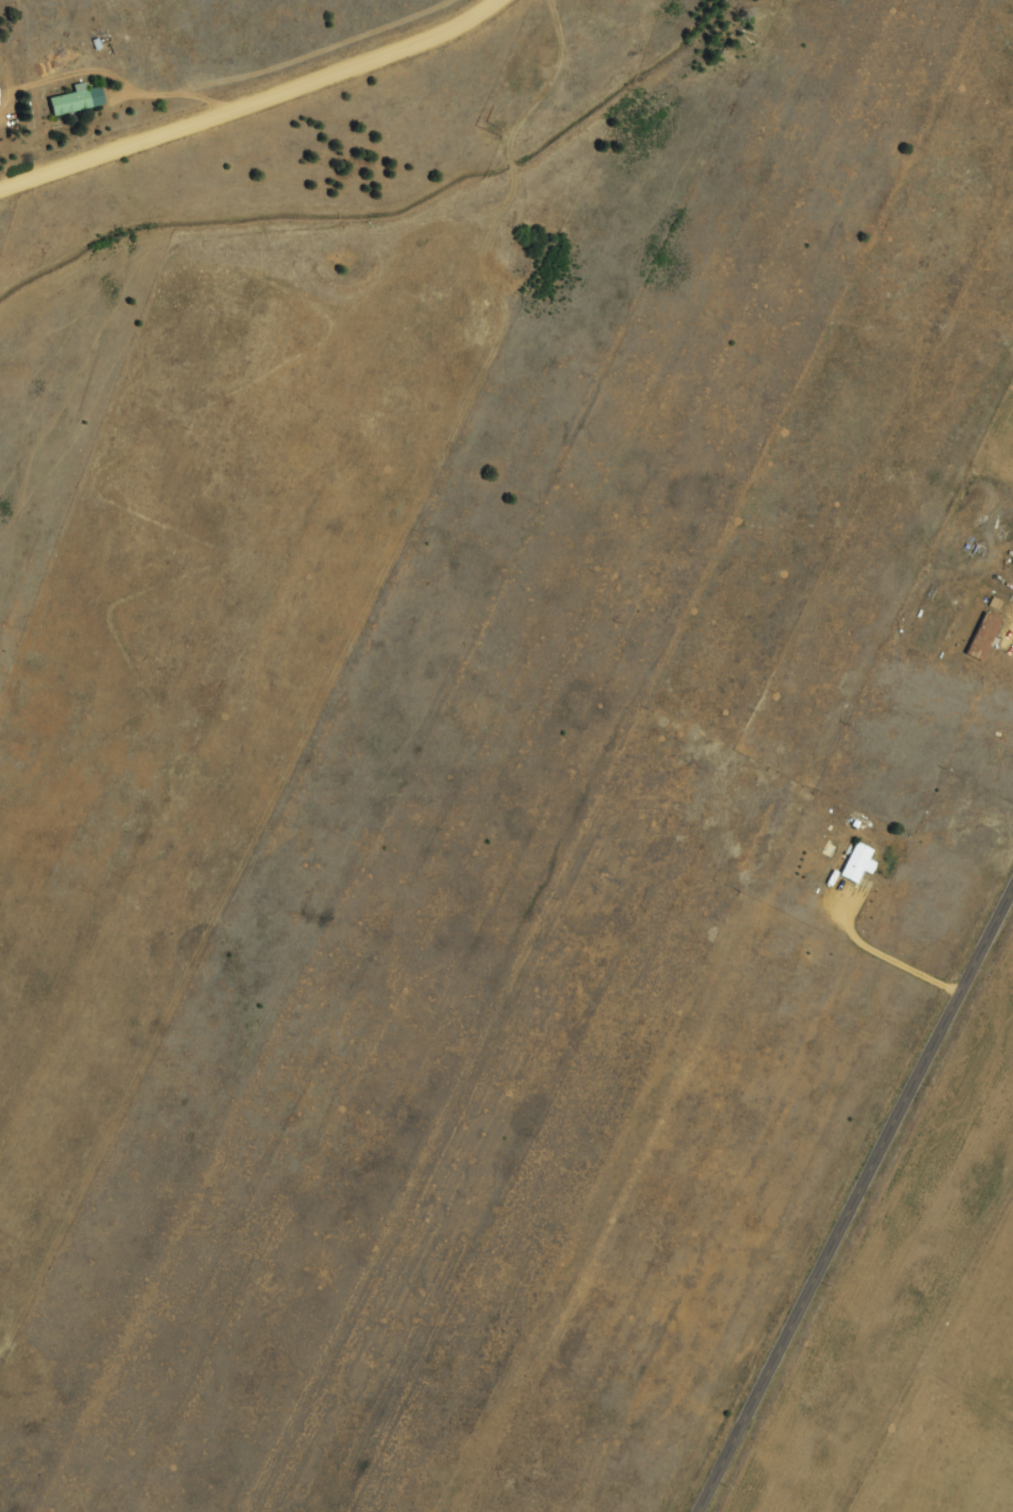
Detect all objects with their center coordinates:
building: (80, 101)
road: (246, 118)
road: (51, 240)
road: (178, 243)
building: (978, 638)
building: (852, 864)
road: (855, 1197)

